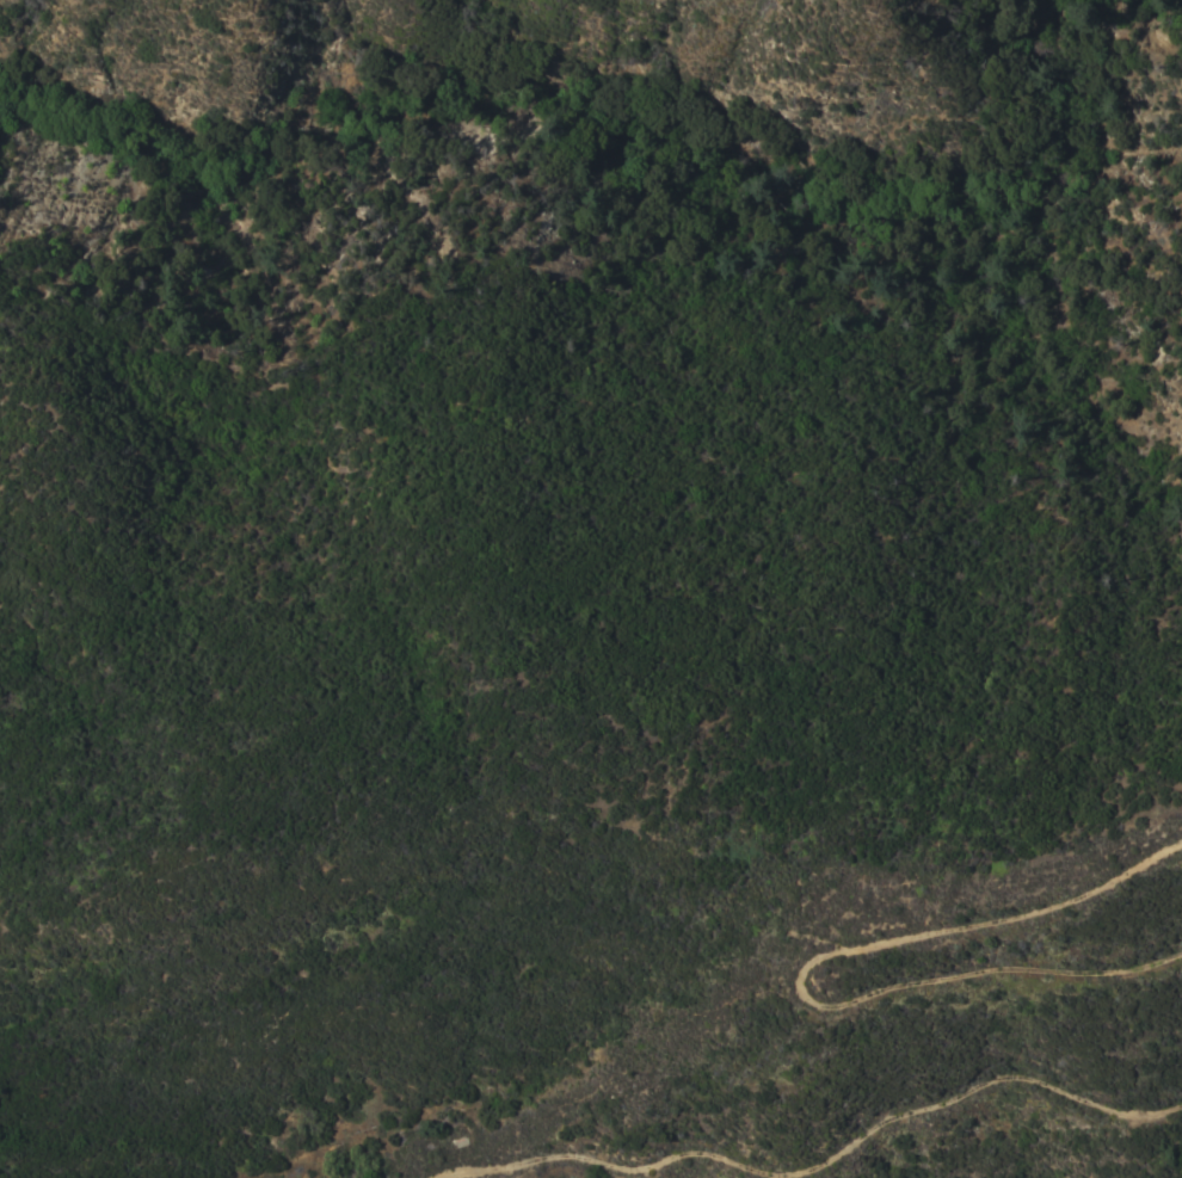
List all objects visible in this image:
road: (807, 983)
road: (987, 1091)
road: (620, 1172)

